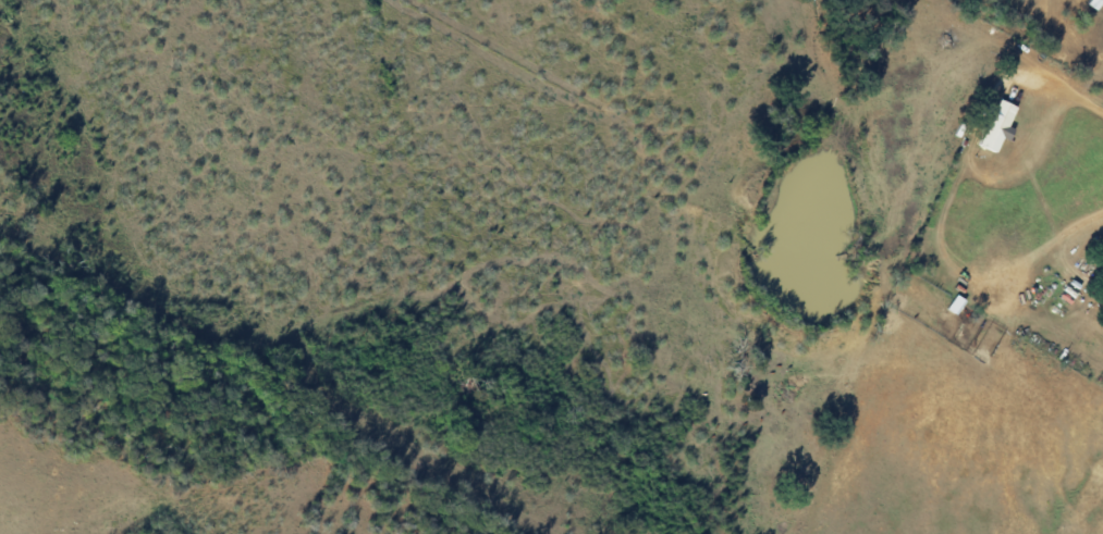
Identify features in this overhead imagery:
building: (1091, 3)
road: (1077, 94)
building: (995, 124)

